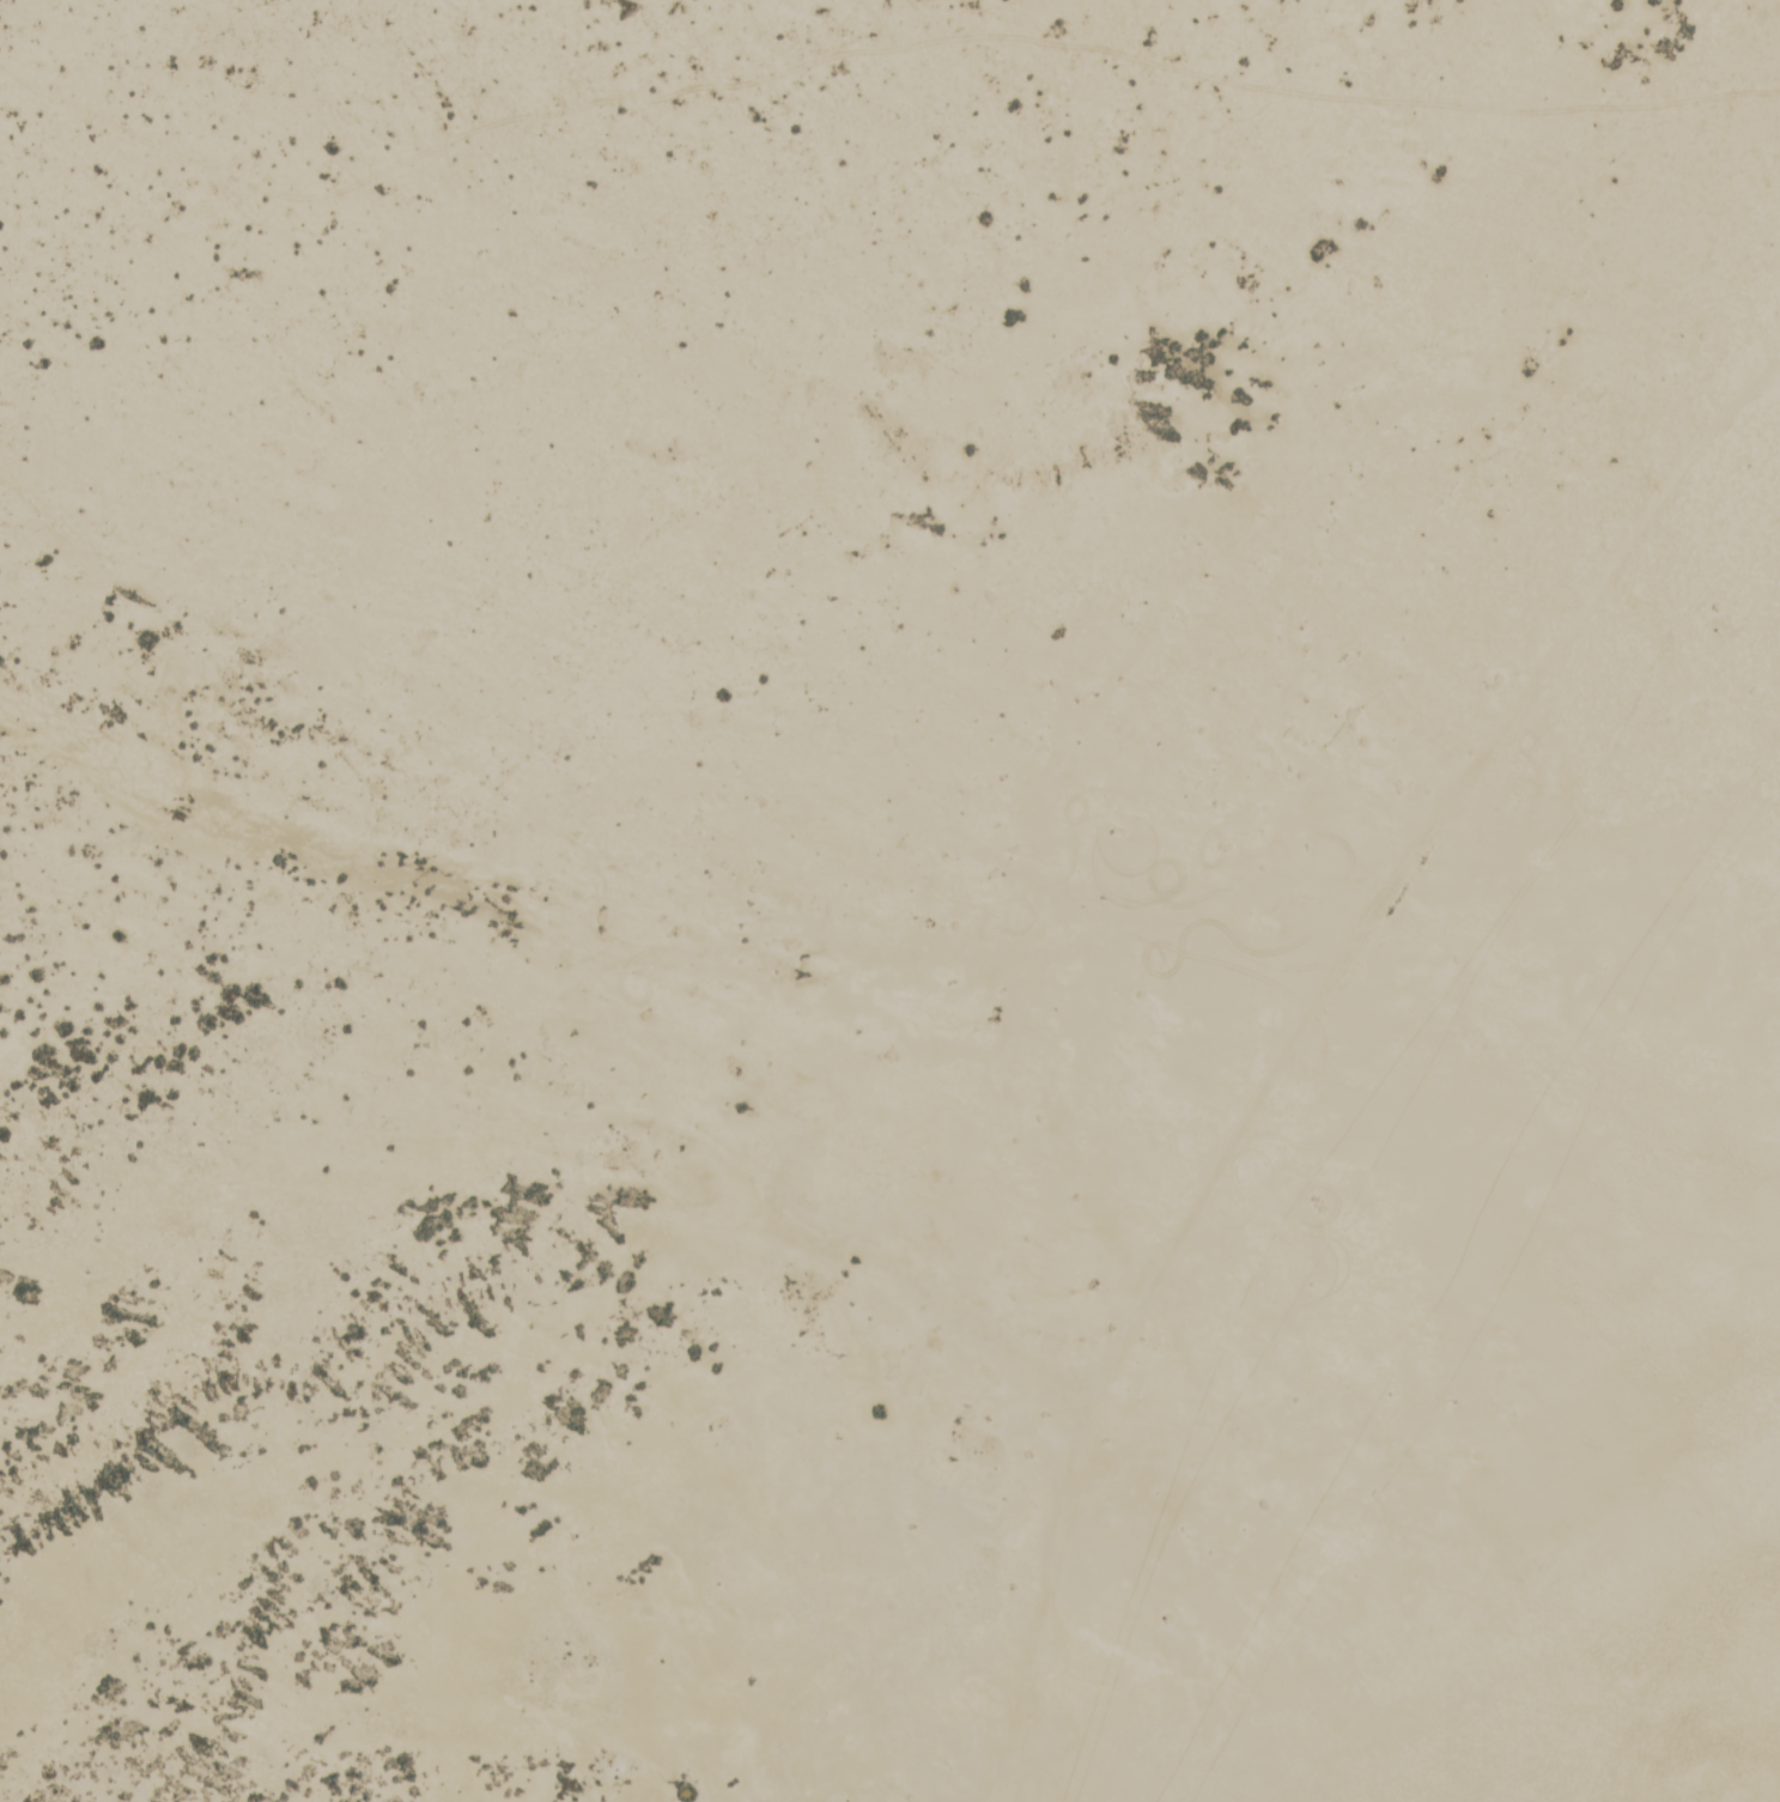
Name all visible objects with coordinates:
road: (1289, 1031)

